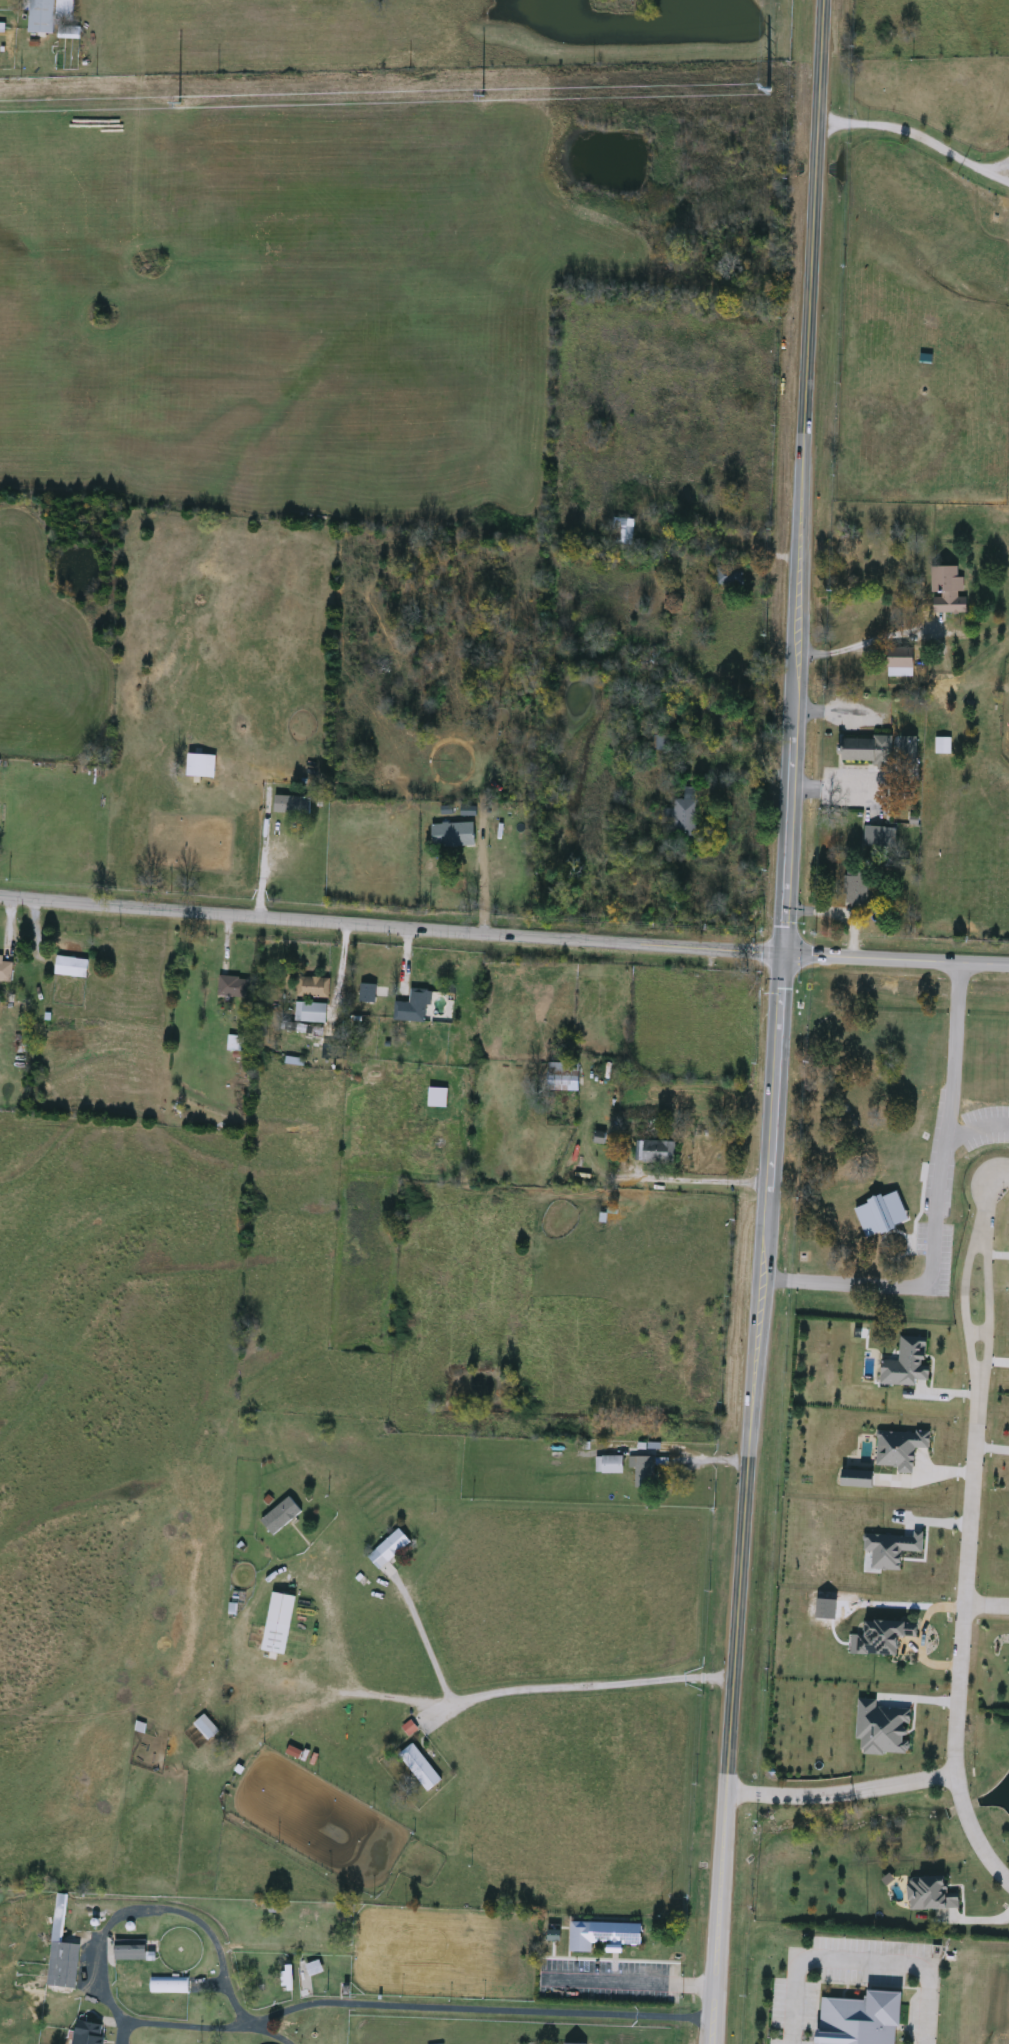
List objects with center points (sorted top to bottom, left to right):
building: (50, 15)
road: (899, 130)
road: (991, 166)
road: (990, 175)
building: (623, 532)
building: (713, 552)
building: (730, 578)
building: (949, 592)
road: (866, 645)
building: (902, 663)
building: (661, 744)
building: (944, 747)
building: (910, 750)
building: (868, 751)
building: (202, 767)
building: (293, 806)
building: (685, 814)
building: (454, 836)
building: (881, 839)
building: (857, 890)
road: (504, 933)
building: (72, 968)
building: (6, 971)
building: (670, 982)
building: (234, 989)
building: (313, 989)
building: (369, 995)
building: (730, 997)
building: (414, 1009)
building: (311, 1014)
road: (775, 1022)
building: (564, 1078)
building: (438, 1099)
building: (658, 1153)
road: (701, 1180)
road: (931, 1203)
road: (711, 1463)
building: (610, 1465)
building: (646, 1470)
road: (968, 1534)
building: (390, 1552)
road: (986, 1607)
building: (279, 1624)
road: (417, 1648)
road: (595, 1685)
building: (207, 1728)
building: (420, 1768)
road: (898, 1775)
road: (785, 1785)
road: (151, 1909)
building: (84, 1925)
building: (617, 1935)
building: (133, 1952)
road: (859, 1962)
building: (315, 1969)
building: (288, 1979)
road: (628, 1984)
building: (166, 1987)
road: (482, 2009)
building: (861, 2020)
road: (190, 2025)
road: (274, 2032)
building: (89, 2034)

